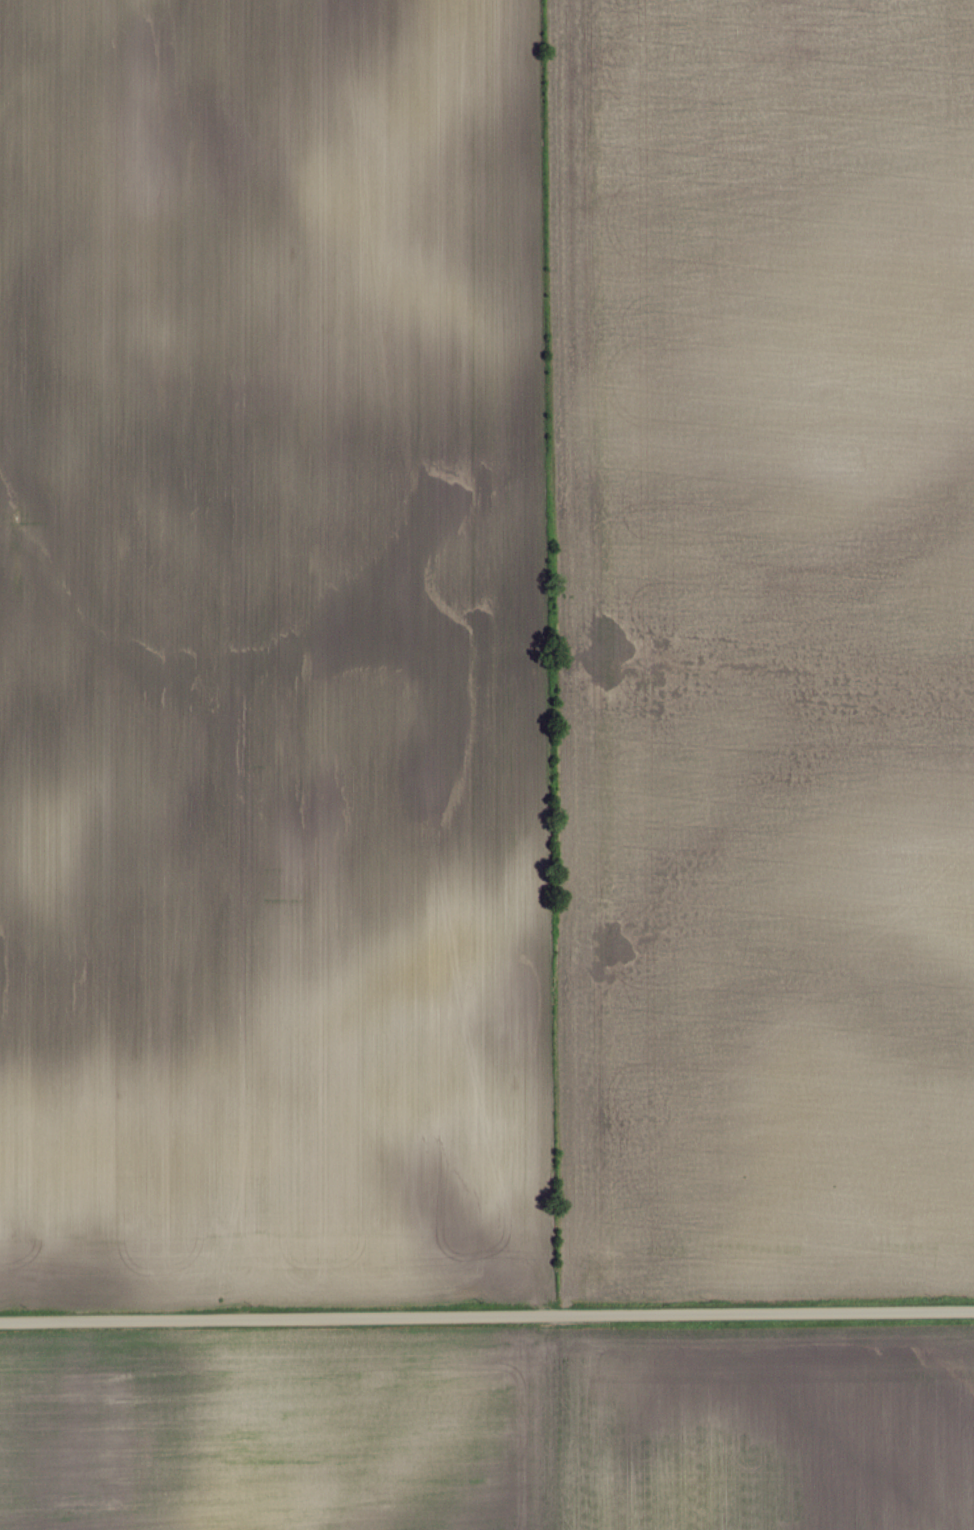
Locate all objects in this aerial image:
road: (487, 1321)

